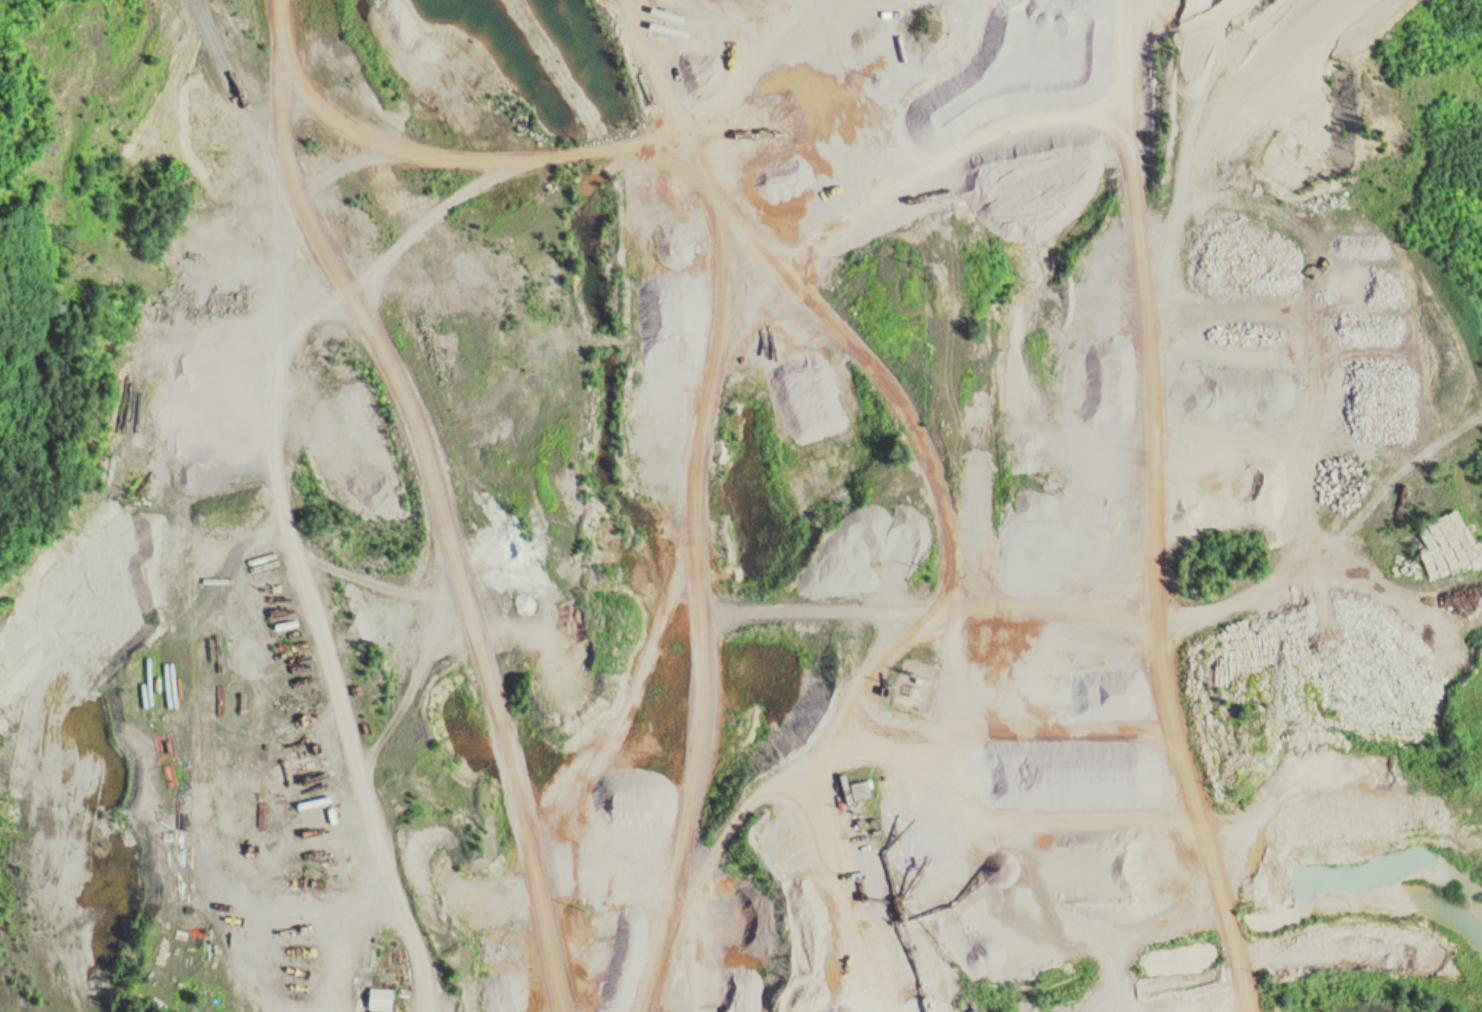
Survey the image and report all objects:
road: (226, 82)
road: (603, 144)
road: (696, 451)
road: (1319, 527)
building: (1446, 545)
road: (437, 581)
road: (1091, 627)
building: (821, 647)
building: (860, 789)
road: (704, 790)
road: (1100, 818)
road: (1219, 917)
building: (377, 998)

